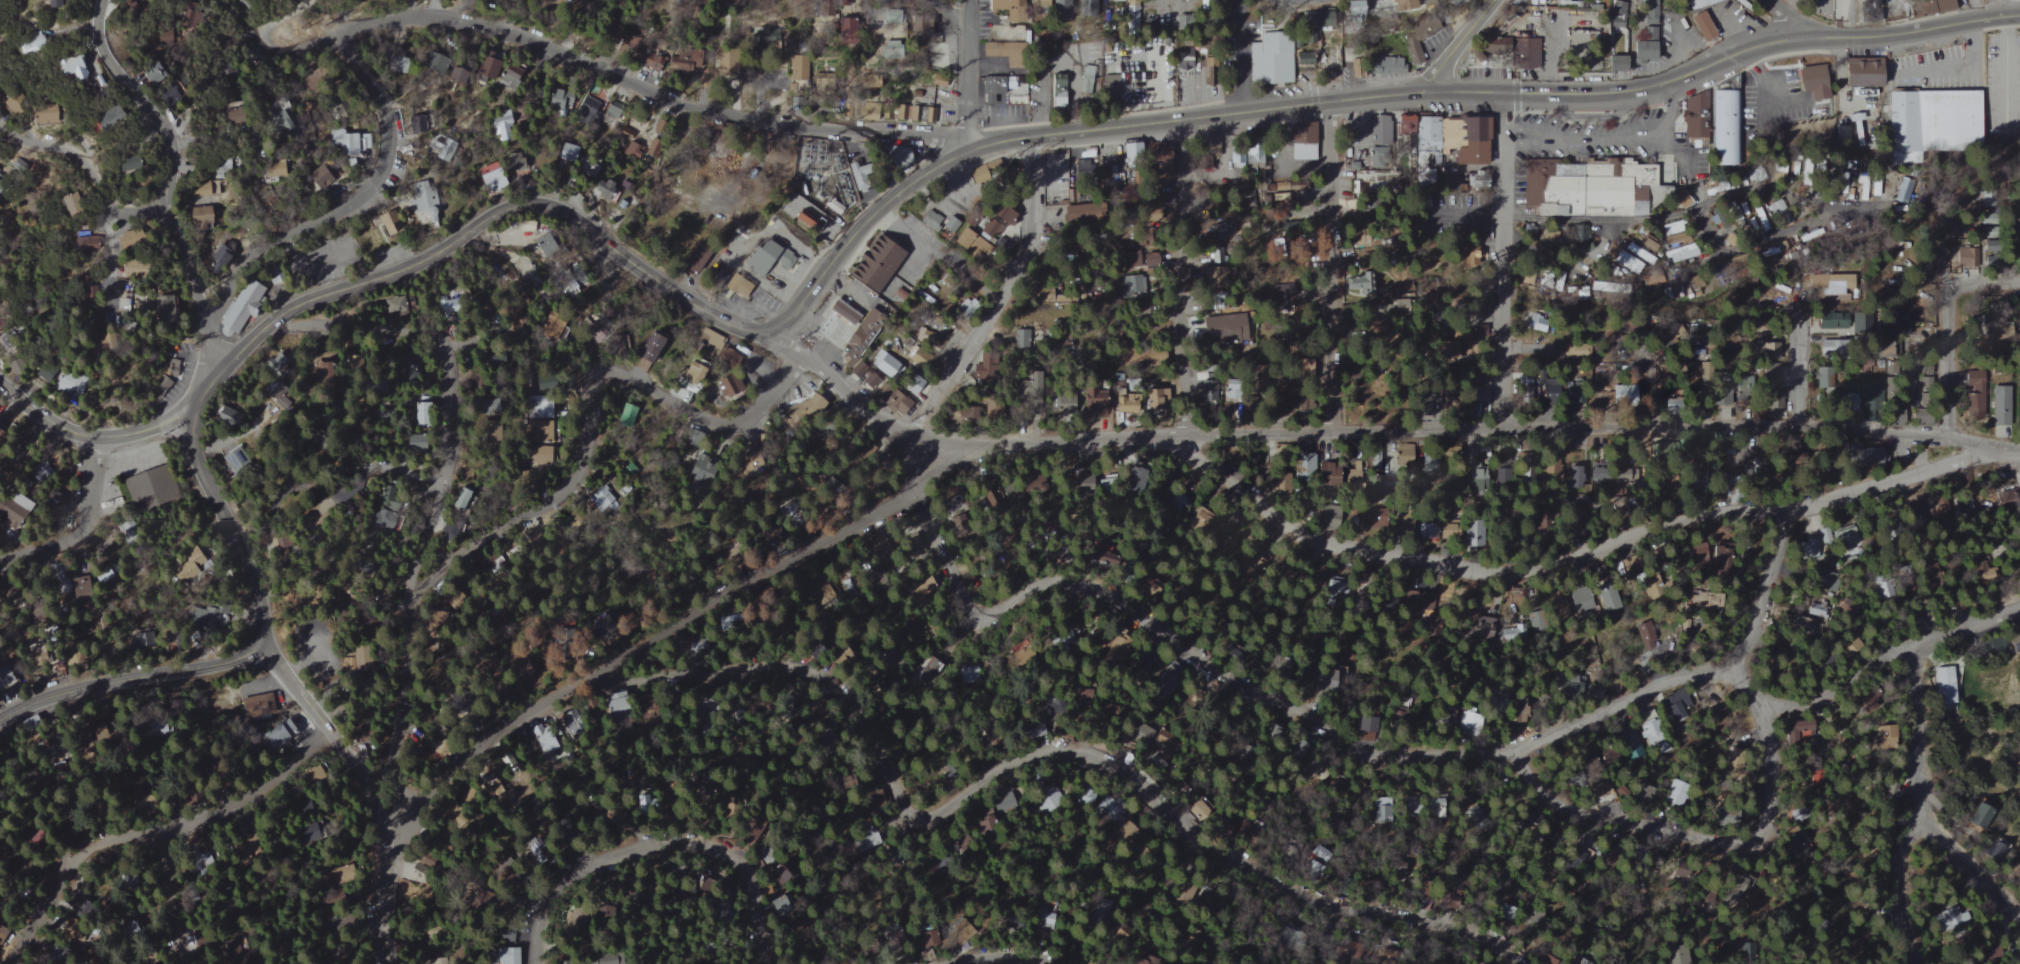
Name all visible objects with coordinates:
building: (1038, 2)
building: (1560, 2)
building: (1702, 3)
building: (60, 4)
building: (1399, 5)
building: (1058, 7)
building: (1354, 7)
building: (1927, 7)
building: (1006, 8)
building: (1617, 12)
road: (286, 15)
road: (941, 15)
road: (964, 15)
building: (1319, 17)
road: (1794, 19)
building: (1703, 26)
building: (1418, 39)
building: (35, 43)
road: (1456, 45)
building: (1644, 45)
building: (992, 51)
building: (1525, 53)
road: (1240, 55)
building: (1274, 58)
building: (1183, 59)
building: (693, 60)
building: (1330, 60)
building: (1614, 60)
building: (436, 61)
road: (1994, 64)
building: (78, 68)
building: (799, 70)
road: (965, 71)
building: (1859, 73)
building: (155, 75)
building: (458, 75)
building: (510, 77)
building: (1810, 78)
building: (938, 81)
building: (1083, 81)
road: (645, 82)
building: (1107, 82)
building: (1012, 87)
building: (991, 88)
building: (1056, 90)
building: (562, 101)
building: (14, 107)
building: (588, 110)
building: (870, 113)
building: (236, 114)
building: (119, 115)
building: (1693, 115)
building: (47, 118)
building: (1932, 119)
building: (283, 121)
building: (1403, 124)
building: (1452, 125)
road: (965, 126)
building: (1370, 127)
building: (1724, 127)
building: (504, 128)
road: (1025, 137)
road: (1607, 138)
road: (981, 141)
building: (346, 142)
building: (1130, 150)
building: (449, 151)
building: (1301, 151)
building: (635, 152)
building: (566, 153)
building: (1281, 153)
building: (804, 155)
building: (893, 156)
building: (1153, 156)
road: (379, 163)
building: (134, 164)
building: (587, 168)
road: (89, 170)
building: (1081, 172)
building: (1834, 172)
building: (493, 178)
building: (328, 180)
building: (1, 184)
building: (1874, 184)
road: (172, 186)
building: (1862, 186)
building: (1590, 189)
building: (607, 190)
building: (1846, 190)
road: (1757, 192)
building: (1899, 197)
building: (1177, 202)
building: (424, 204)
building: (1061, 205)
building: (73, 207)
building: (1735, 210)
building: (205, 214)
building: (996, 216)
building: (930, 220)
road: (1555, 221)
building: (394, 224)
building: (948, 225)
road: (1807, 225)
road: (900, 229)
building: (1204, 229)
building: (1581, 235)
building: (959, 237)
building: (137, 239)
building: (89, 241)
building: (539, 241)
building: (975, 245)
road: (1730, 251)
building: (1638, 253)
building: (1681, 253)
building: (222, 255)
road: (110, 256)
building: (766, 256)
building: (1959, 256)
road: (1502, 259)
building: (1147, 260)
building: (1627, 262)
road: (1553, 263)
building: (872, 265)
road: (1330, 265)
building: (142, 271)
building: (1211, 276)
building: (577, 277)
road: (1176, 277)
building: (1829, 283)
building: (1360, 284)
building: (736, 285)
road: (999, 295)
building: (247, 301)
building: (127, 305)
building: (394, 306)
building: (448, 306)
building: (1472, 306)
building: (169, 307)
building: (838, 311)
building: (1829, 320)
building: (1536, 324)
building: (1627, 325)
road: (357, 326)
road: (1951, 328)
building: (1222, 330)
building: (653, 347)
building: (719, 348)
building: (859, 349)
building: (1440, 349)
road: (1527, 350)
building: (1770, 351)
building: (1575, 352)
building: (11, 354)
road: (1647, 355)
building: (173, 358)
building: (913, 358)
road: (1800, 359)
building: (884, 363)
building: (279, 366)
building: (43, 373)
building: (315, 375)
building: (692, 375)
building: (1820, 377)
building: (1020, 381)
building: (71, 383)
building: (912, 384)
building: (1549, 386)
building: (1524, 387)
building: (1199, 388)
building: (1231, 389)
building: (1869, 390)
building: (1973, 394)
building: (1619, 395)
building: (1155, 398)
building: (892, 400)
building: (1079, 400)
building: (1846, 400)
building: (1771, 401)
building: (1125, 403)
building: (1999, 404)
building: (806, 406)
building: (540, 408)
building: (989, 409)
road: (40, 412)
building: (418, 413)
road: (1603, 426)
road: (144, 433)
road: (960, 445)
road: (2018, 450)
road: (454, 454)
building: (1856, 454)
building: (1374, 458)
building: (1427, 461)
building: (1307, 462)
road: (386, 465)
building: (748, 466)
building: (702, 469)
building: (1135, 470)
building: (1532, 470)
building: (1478, 471)
road: (926, 474)
building: (1326, 474)
building: (1596, 474)
building: (1574, 477)
building: (1356, 480)
building: (1086, 482)
building: (1134, 482)
building: (1503, 482)
road: (572, 484)
building: (1279, 485)
building: (146, 488)
building: (601, 497)
building: (459, 499)
building: (1181, 503)
building: (1939, 508)
building: (1963, 509)
building: (1201, 520)
building: (1371, 520)
road: (227, 522)
building: (1401, 527)
road: (79, 528)
building: (1429, 530)
building: (920, 531)
building: (1451, 531)
building: (1845, 541)
building: (1808, 549)
road: (1585, 553)
building: (1707, 557)
road: (743, 584)
building: (65, 585)
building: (1609, 600)
building: (1582, 603)
building: (1561, 608)
building: (1847, 608)
building: (199, 617)
building: (1481, 627)
building: (1515, 632)
building: (2014, 634)
building: (1643, 636)
building: (356, 662)
building: (1145, 671)
road: (131, 680)
building: (1326, 682)
building: (1573, 685)
building: (1945, 685)
building: (1866, 702)
building: (614, 703)
building: (1676, 704)
building: (255, 706)
building: (1369, 721)
building: (1470, 722)
road: (328, 729)
building: (1142, 730)
road: (1916, 733)
building: (280, 735)
building: (1885, 735)
building: (1654, 737)
building: (1631, 745)
road: (483, 750)
road: (1043, 753)
road: (1415, 756)
building: (1676, 792)
building: (1054, 795)
road: (1765, 804)
building: (1195, 807)
building: (1982, 815)
road: (150, 832)
road: (656, 842)
building: (2019, 861)
road: (1973, 866)
building: (1318, 868)
building: (778, 877)
road: (1902, 890)
road: (386, 893)
road: (175, 897)
building: (1509, 911)
building: (1046, 913)
building: (1947, 918)
building: (503, 956)
road: (1005, 956)
building: (1585, 958)

